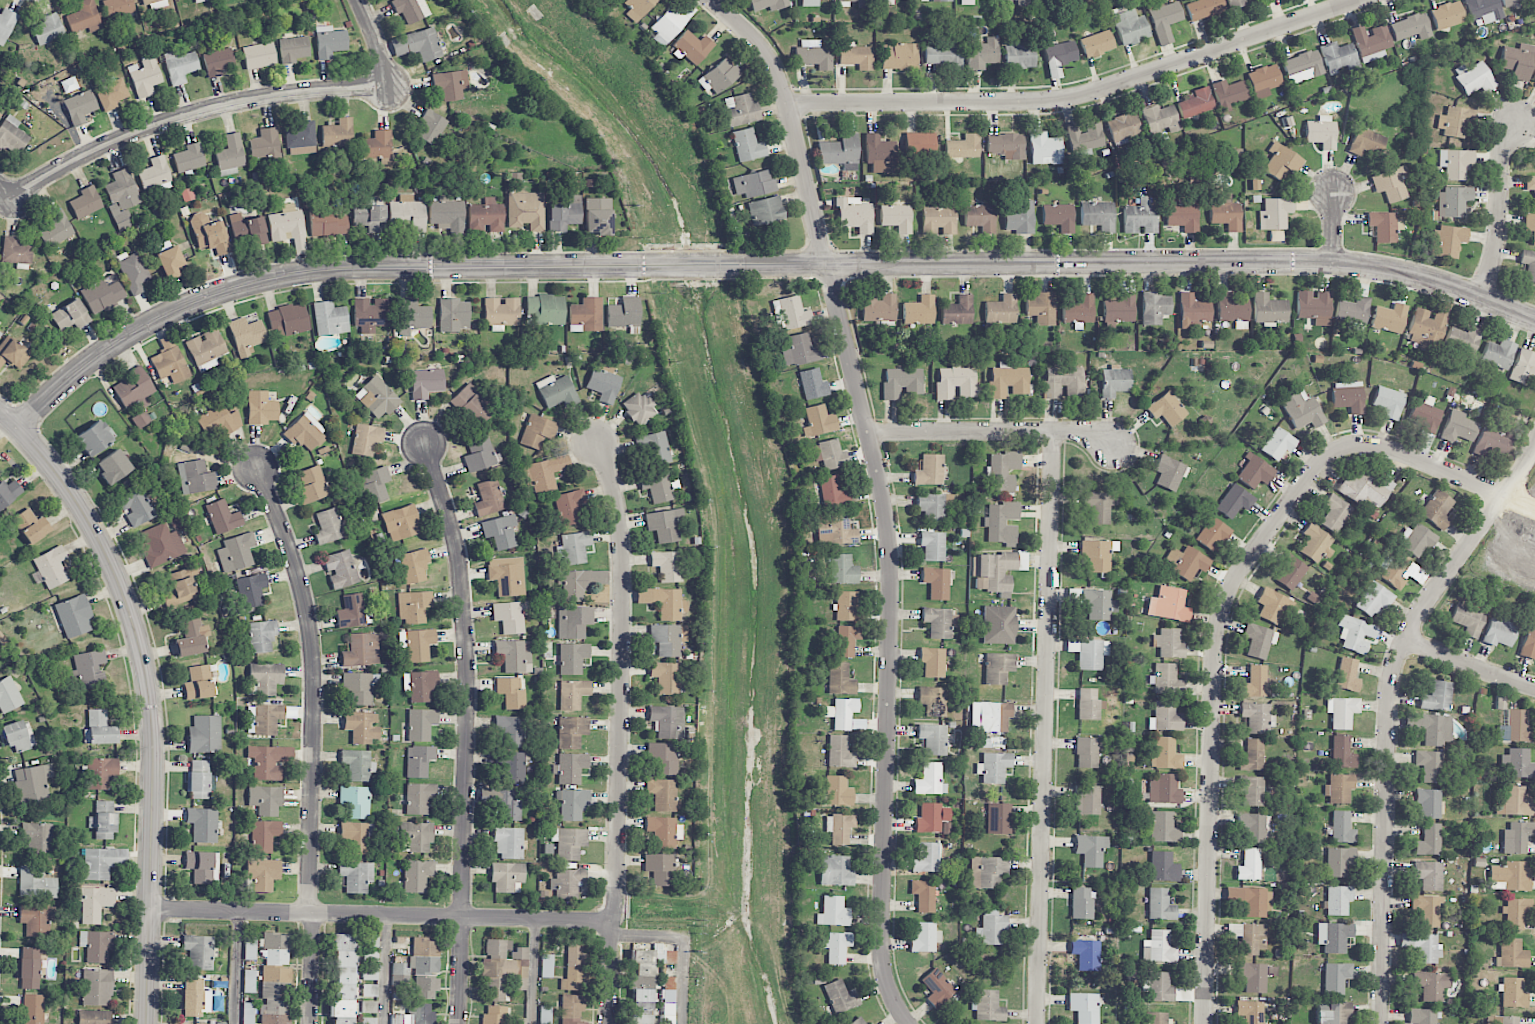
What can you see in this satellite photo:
building: (941, 0)
building: (149, 1)
building: (200, 1)
building: (853, 1)
building: (883, 1)
building: (808, 2)
building: (966, 2)
building: (1011, 2)
building: (1514, 2)
building: (1236, 3)
building: (767, 4)
building: (637, 7)
building: (119, 8)
building: (1204, 9)
building: (410, 10)
building: (1483, 11)
building: (1447, 15)
building: (84, 19)
building: (1164, 20)
building: (667, 24)
building: (6, 25)
building: (1130, 27)
building: (1410, 27)
building: (48, 29)
building: (1371, 40)
building: (329, 42)
road: (377, 42)
building: (417, 44)
building: (1097, 44)
building: (693, 47)
building: (293, 49)
building: (982, 53)
building: (258, 55)
building: (813, 55)
building: (899, 56)
building: (944, 56)
building: (1019, 56)
building: (856, 57)
building: (1059, 57)
building: (1338, 58)
building: (1517, 61)
building: (217, 62)
building: (180, 66)
building: (1302, 67)
building: (719, 76)
building: (145, 77)
building: (1474, 78)
building: (1263, 81)
building: (450, 84)
building: (1534, 84)
building: (111, 93)
building: (1229, 94)
road: (1081, 97)
building: (1196, 103)
building: (80, 107)
building: (741, 110)
building: (0, 114)
road: (194, 114)
building: (1161, 119)
road: (791, 121)
building: (1455, 122)
building: (430, 127)
building: (1124, 128)
building: (1321, 132)
building: (337, 133)
building: (11, 135)
building: (300, 138)
building: (1089, 139)
building: (919, 143)
building: (1366, 143)
building: (264, 144)
building: (747, 145)
building: (1005, 146)
building: (377, 147)
building: (963, 147)
building: (1045, 148)
building: (878, 149)
building: (839, 152)
building: (230, 155)
building: (189, 158)
building: (1281, 162)
building: (1456, 163)
building: (155, 173)
building: (754, 183)
building: (1391, 184)
building: (1530, 186)
building: (122, 190)
road: (6, 191)
building: (1453, 201)
building: (85, 202)
building: (1300, 204)
road: (1501, 209)
building: (526, 210)
building: (766, 211)
building: (1180, 213)
building: (1275, 213)
building: (369, 214)
building: (408, 214)
building: (447, 214)
building: (564, 214)
building: (1226, 214)
building: (856, 215)
building: (1097, 215)
building: (486, 216)
building: (597, 216)
building: (1058, 216)
building: (896, 217)
building: (980, 217)
building: (1018, 217)
building: (1140, 217)
building: (121, 220)
building: (938, 220)
building: (327, 223)
building: (286, 224)
building: (1530, 225)
building: (1383, 226)
road: (1334, 227)
building: (56, 229)
building: (247, 229)
building: (210, 234)
building: (1447, 241)
street lamp: (1347, 247)
building: (16, 252)
building: (170, 262)
road: (1185, 262)
building: (1528, 264)
road: (398, 267)
building: (133, 271)
street lamp: (1471, 275)
street lamp: (846, 283)
building: (102, 296)
street lamp: (256, 296)
building: (1314, 306)
building: (1154, 307)
building: (879, 308)
building: (1041, 308)
building: (1233, 309)
building: (544, 310)
building: (1000, 310)
building: (1079, 310)
building: (1118, 310)
building: (1269, 310)
building: (501, 311)
building: (919, 311)
building: (957, 311)
building: (1192, 311)
building: (791, 312)
building: (1353, 312)
building: (623, 313)
building: (371, 314)
building: (453, 315)
building: (586, 315)
building: (70, 316)
building: (412, 316)
building: (330, 318)
building: (1389, 318)
building: (287, 320)
building: (1428, 326)
building: (0, 335)
building: (246, 336)
building: (1462, 339)
building: (206, 349)
building: (799, 350)
building: (12, 353)
building: (1497, 353)
building: (169, 361)
building: (1522, 367)
building: (1008, 380)
building: (1114, 381)
building: (603, 382)
building: (901, 382)
building: (956, 382)
building: (1065, 382)
building: (426, 383)
building: (813, 384)
building: (134, 389)
building: (556, 392)
building: (1348, 396)
building: (376, 398)
building: (1388, 402)
building: (471, 405)
building: (261, 408)
building: (638, 408)
building: (1166, 408)
building: (1302, 410)
building: (1424, 414)
road: (8, 419)
building: (140, 419)
building: (218, 421)
building: (818, 421)
building: (1458, 427)
street lamp: (41, 429)
building: (304, 432)
building: (537, 432)
road: (995, 432)
building: (93, 438)
building: (366, 439)
building: (1493, 442)
building: (1278, 444)
building: (653, 449)
building: (829, 454)
street lamp: (1126, 466)
building: (113, 467)
building: (929, 470)
building: (1003, 471)
building: (1254, 472)
building: (544, 473)
building: (1168, 473)
building: (195, 477)
building: (313, 485)
building: (374, 485)
building: (657, 486)
building: (1365, 488)
building: (833, 492)
building: (9, 493)
building: (488, 497)
road: (1522, 499)
building: (1234, 501)
building: (136, 506)
building: (1099, 506)
building: (569, 507)
building: (931, 507)
building: (1436, 509)
building: (1335, 513)
building: (222, 517)
building: (401, 522)
building: (1001, 522)
building: (664, 525)
building: (31, 526)
building: (328, 526)
building: (834, 530)
building: (500, 531)
building: (1212, 534)
building: (1416, 540)
building: (1315, 544)
building: (161, 545)
building: (933, 546)
building: (574, 547)
building: (236, 552)
building: (1098, 555)
building: (1187, 562)
building: (414, 565)
building: (666, 565)
building: (51, 567)
building: (340, 569)
building: (842, 569)
building: (997, 570)
building: (1395, 571)
building: (1289, 572)
building: (507, 576)
building: (579, 583)
building: (936, 583)
building: (180, 588)
building: (252, 590)
building: (1374, 600)
building: (668, 604)
building: (1098, 604)
building: (1168, 604)
building: (847, 605)
building: (1272, 606)
building: (414, 607)
building: (351, 612)
building: (511, 615)
building: (73, 616)
building: (1468, 619)
building: (573, 621)
building: (939, 622)
building: (998, 625)
road: (1217, 625)
building: (1499, 632)
building: (1356, 634)
building: (262, 636)
building: (191, 638)
building: (665, 640)
building: (846, 640)
building: (1259, 640)
building: (1169, 643)
building: (417, 644)
road: (888, 644)
building: (1528, 645)
building: (361, 650)
building: (1089, 653)
building: (514, 655)
building: (572, 658)
building: (933, 662)
road: (1469, 665)
building: (90, 668)
building: (998, 668)
building: (1347, 675)
building: (665, 677)
building: (265, 678)
building: (840, 679)
building: (1166, 679)
building: (1255, 682)
building: (198, 683)
building: (420, 686)
building: (358, 688)
building: (511, 693)
building: (573, 694)
building: (8, 695)
building: (1437, 697)
building: (933, 700)
building: (1088, 704)
road: (150, 707)
building: (1342, 712)
building: (841, 713)
road: (1390, 716)
building: (989, 717)
building: (1165, 717)
building: (1257, 718)
building: (267, 719)
building: (664, 721)
building: (421, 724)
road: (621, 726)
building: (1514, 726)
building: (361, 727)
building: (100, 728)
road: (1045, 728)
building: (1432, 728)
building: (510, 730)
building: (571, 731)
road: (469, 732)
building: (204, 734)
building: (19, 736)
building: (933, 738)
road: (313, 741)
building: (840, 752)
building: (1086, 753)
building: (1342, 753)
building: (1165, 754)
building: (1252, 756)
building: (662, 759)
building: (418, 760)
building: (269, 761)
building: (1518, 763)
building: (357, 764)
building: (1430, 765)
building: (993, 767)
building: (511, 768)
building: (571, 768)
building: (100, 773)
building: (198, 780)
building: (930, 780)
building: (33, 783)
building: (1339, 788)
building: (1163, 790)
building: (1251, 790)
building: (838, 791)
building: (664, 795)
building: (417, 798)
building: (265, 800)
building: (1087, 800)
building: (355, 801)
building: (502, 802)
building: (1514, 802)
building: (1429, 803)
building: (573, 804)
building: (933, 819)
building: (998, 819)
building: (104, 820)
building: (202, 824)
building: (1252, 827)
building: (839, 828)
building: (1162, 828)
building: (1341, 828)
building: (663, 832)
building: (264, 835)
building: (415, 836)
building: (354, 837)
building: (1517, 837)
building: (37, 838)
building: (1429, 840)
building: (508, 842)
building: (569, 842)
building: (1090, 849)
building: (926, 858)
building: (103, 862)
building: (1339, 862)
building: (1249, 865)
building: (202, 867)
building: (1163, 867)
building: (659, 868)
building: (835, 871)
building: (987, 872)
building: (263, 874)
building: (417, 875)
building: (1429, 875)
building: (356, 876)
building: (1510, 876)
building: (507, 877)
building: (567, 881)
building: (36, 883)
building: (923, 895)
building: (1338, 900)
building: (1256, 902)
building: (93, 903)
building: (1081, 903)
building: (1160, 905)
building: (1426, 910)
building: (833, 912)
building: (1516, 913)
road: (383, 915)
building: (35, 919)
building: (992, 927)
building: (1333, 936)
building: (924, 937)
building: (1251, 938)
building: (371, 941)
building: (96, 945)
building: (424, 947)
building: (837, 947)
building: (1422, 947)
building: (250, 948)
building: (276, 948)
road: (684, 948)
building: (1159, 948)
building: (199, 952)
building: (1086, 954)
building: (1511, 954)
building: (366, 957)
building: (424, 964)
building: (502, 965)
building: (343, 966)
building: (547, 966)
building: (29, 967)
road: (235, 968)
building: (574, 968)
road: (386, 970)
road: (534, 971)
building: (370, 974)
building: (400, 974)
building: (1253, 977)
building: (1336, 977)
building: (645, 980)
building: (249, 984)
building: (1431, 985)
building: (96, 987)
building: (1160, 987)
building: (425, 988)
building: (937, 988)
building: (275, 990)
building: (369, 990)
building: (1513, 993)
building: (840, 996)
building: (195, 998)
building: (988, 1006)
building: (369, 1007)
building: (1084, 1007)
building: (32, 1009)
building: (571, 1009)
building: (1250, 1011)
building: (342, 1012)
building: (1333, 1012)
building: (248, 1013)
building: (668, 1013)
building: (494, 1014)
building: (415, 1015)
building: (1422, 1016)
building: (94, 1017)
building: (1156, 1018)
building: (274, 1019)
building: (1504, 1020)
building: (370, 1021)
building: (518, 1021)
building: (857, 1021)

